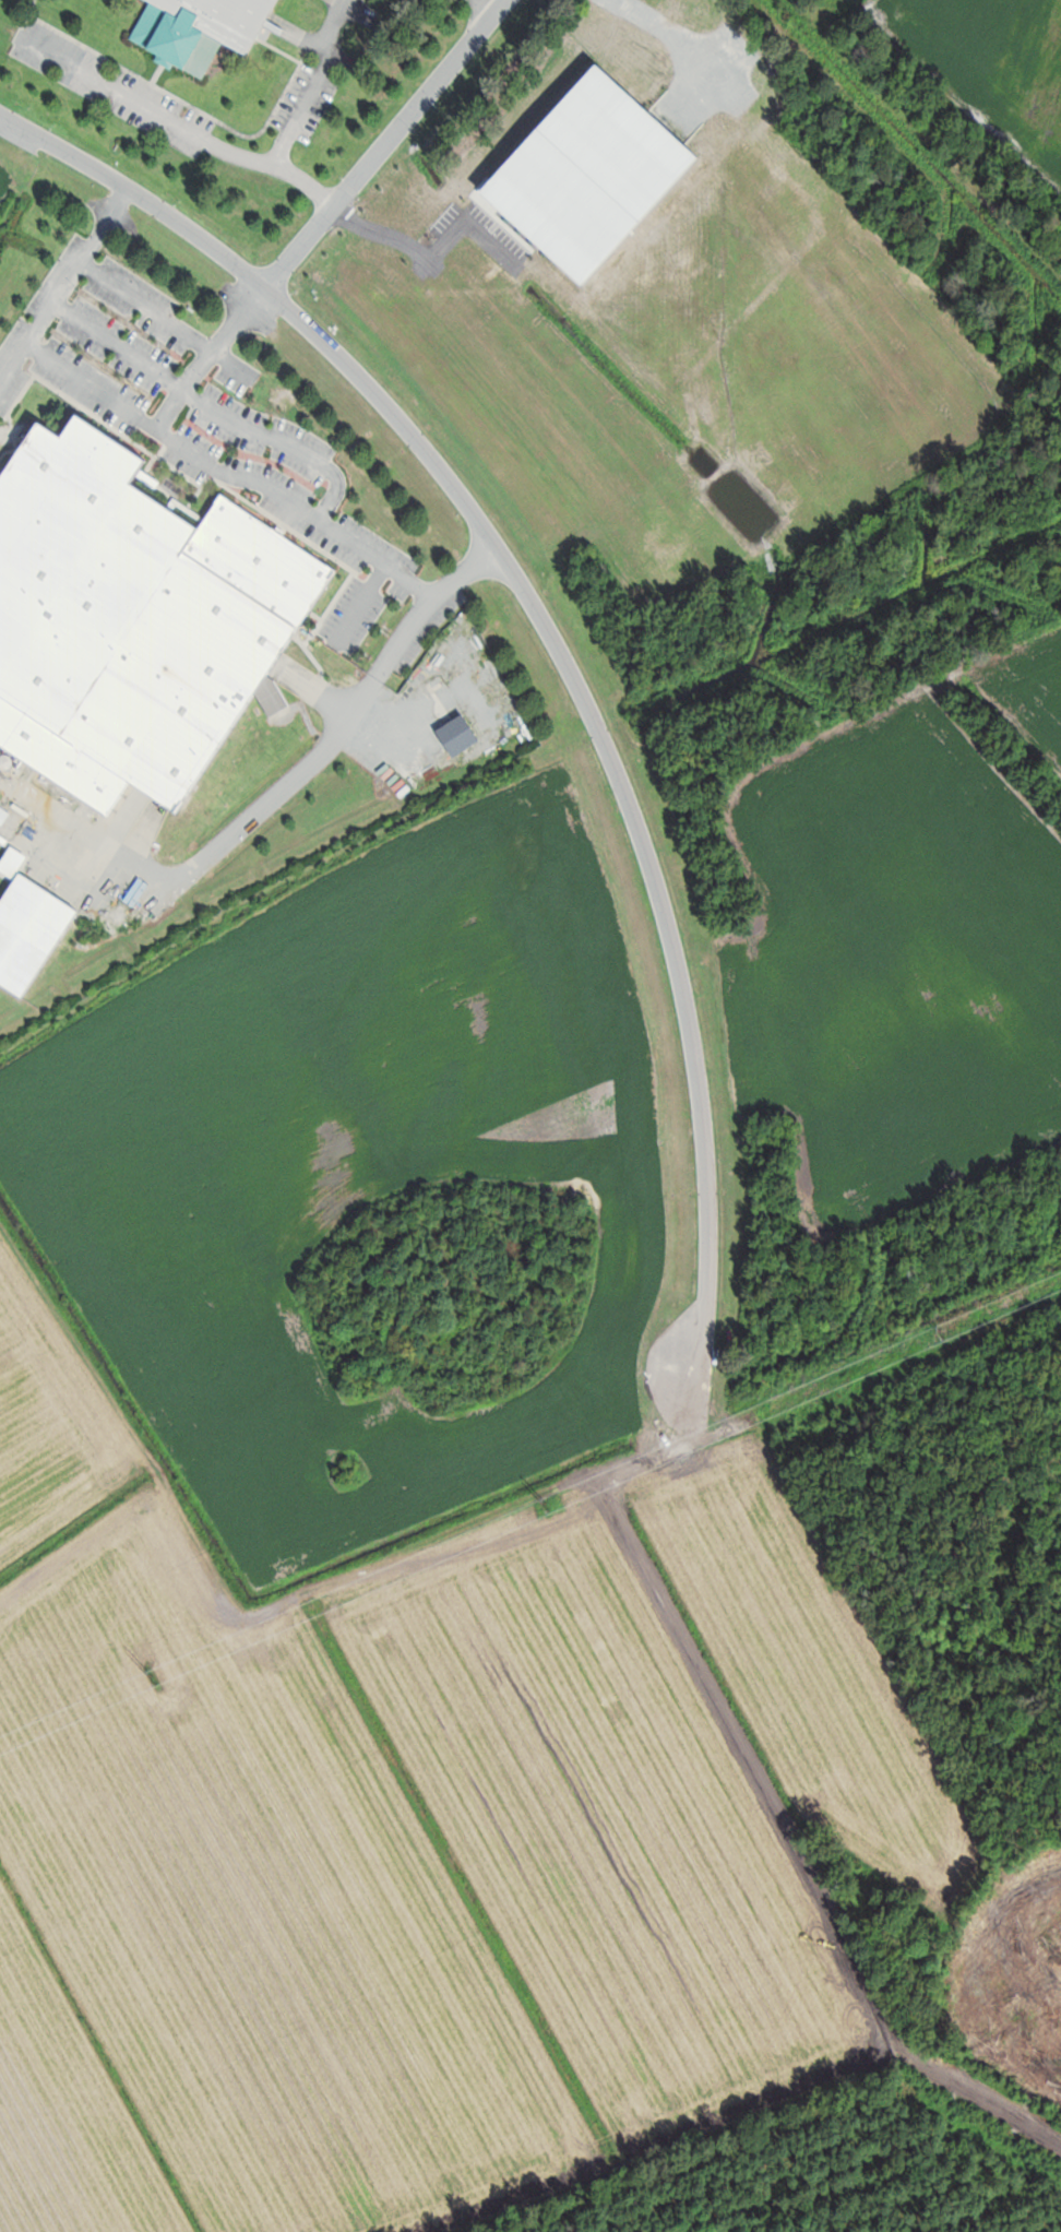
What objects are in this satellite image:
road: (488, 4)
building: (204, 29)
road: (313, 83)
road: (179, 122)
road: (384, 141)
road: (155, 319)
road: (11, 356)
road: (87, 381)
road: (211, 402)
road: (331, 525)
building: (135, 619)
road: (552, 645)
road: (257, 808)
building: (32, 940)
power tower: (943, 1333)
power tower: (550, 1505)
power tower: (155, 1678)

